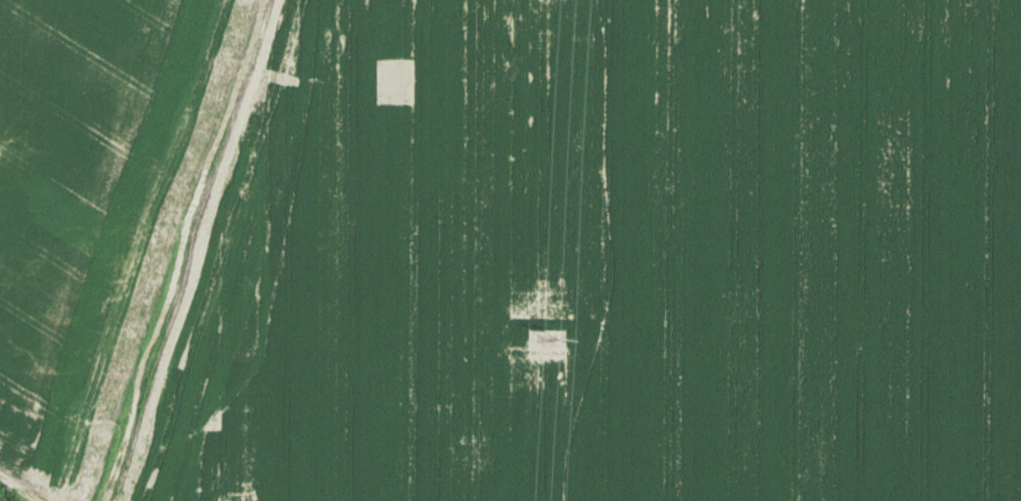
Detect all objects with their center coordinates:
power tower: (553, 340)
road: (20, 487)

